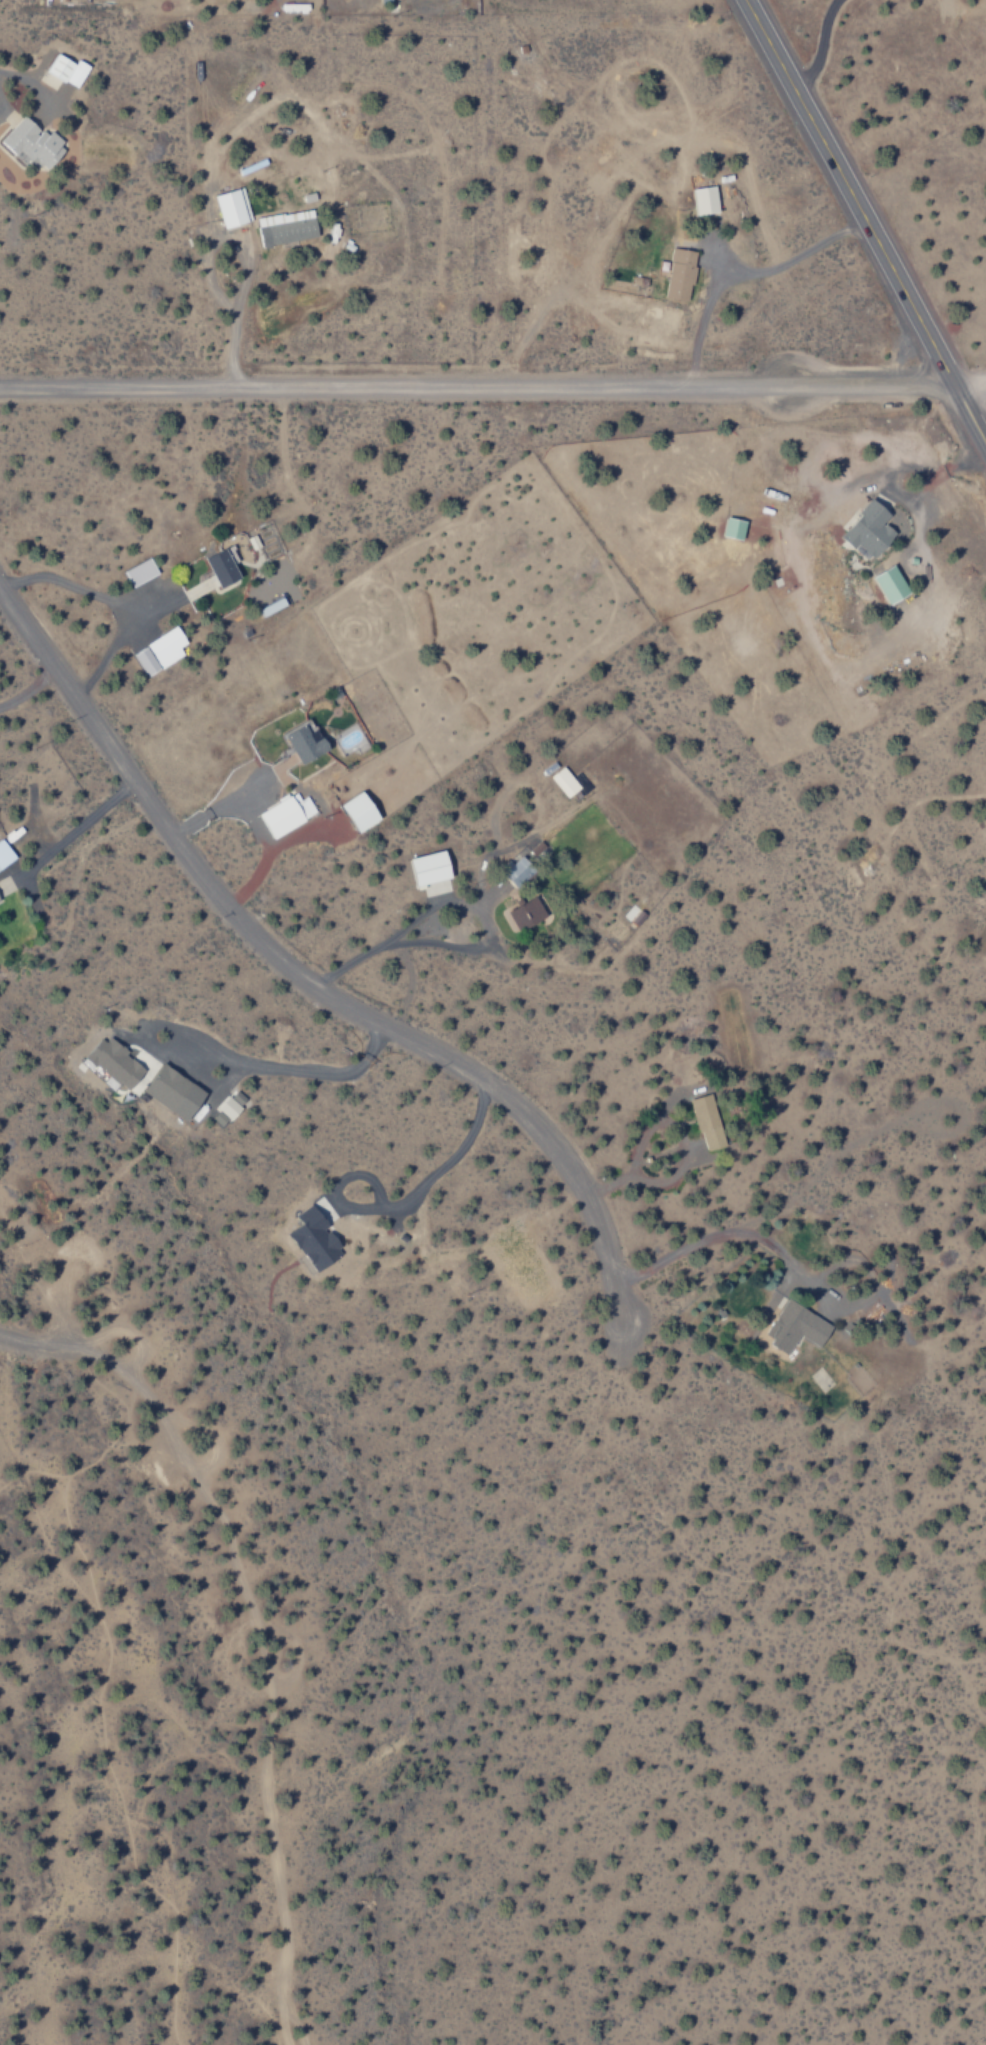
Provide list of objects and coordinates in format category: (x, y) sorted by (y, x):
building: (68, 70)
building: (32, 143)
road: (841, 192)
building: (706, 201)
building: (234, 208)
building: (287, 228)
building: (681, 274)
road: (492, 390)
road: (966, 416)
building: (734, 529)
building: (870, 530)
building: (223, 567)
building: (140, 573)
building: (891, 585)
building: (161, 652)
building: (304, 743)
building: (565, 781)
building: (360, 812)
building: (287, 814)
building: (5, 855)
building: (430, 868)
building: (518, 872)
building: (435, 889)
building: (526, 914)
road: (301, 981)
building: (116, 1063)
building: (174, 1092)
building: (238, 1097)
building: (226, 1111)
building: (708, 1122)
building: (315, 1239)
building: (797, 1328)
road: (47, 1342)
road: (266, 1674)

